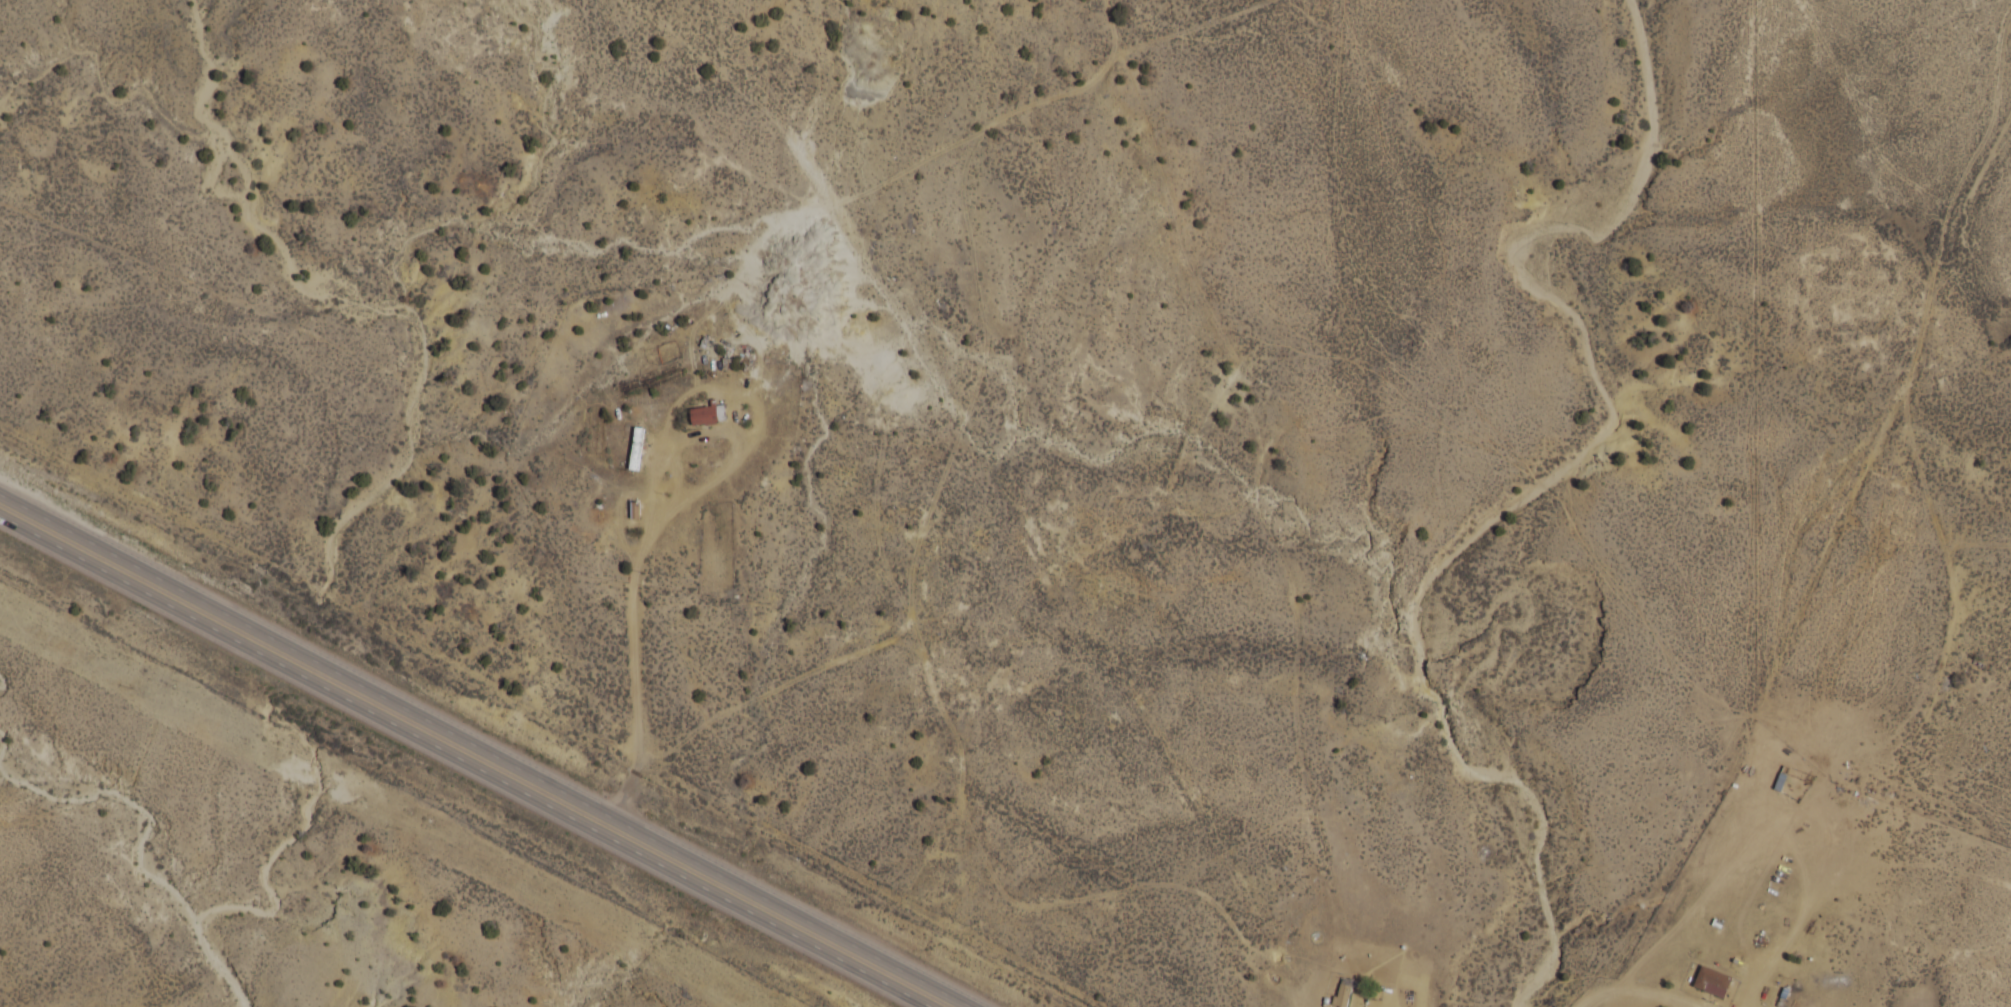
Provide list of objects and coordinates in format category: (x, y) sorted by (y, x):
road: (34, 32)
building: (707, 417)
building: (634, 452)
road: (635, 597)
road: (1836, 631)
road: (488, 748)
road: (466, 760)
building: (1781, 781)
road: (1855, 801)
road: (1767, 967)
building: (1712, 983)
road: (1600, 990)
road: (1662, 999)

